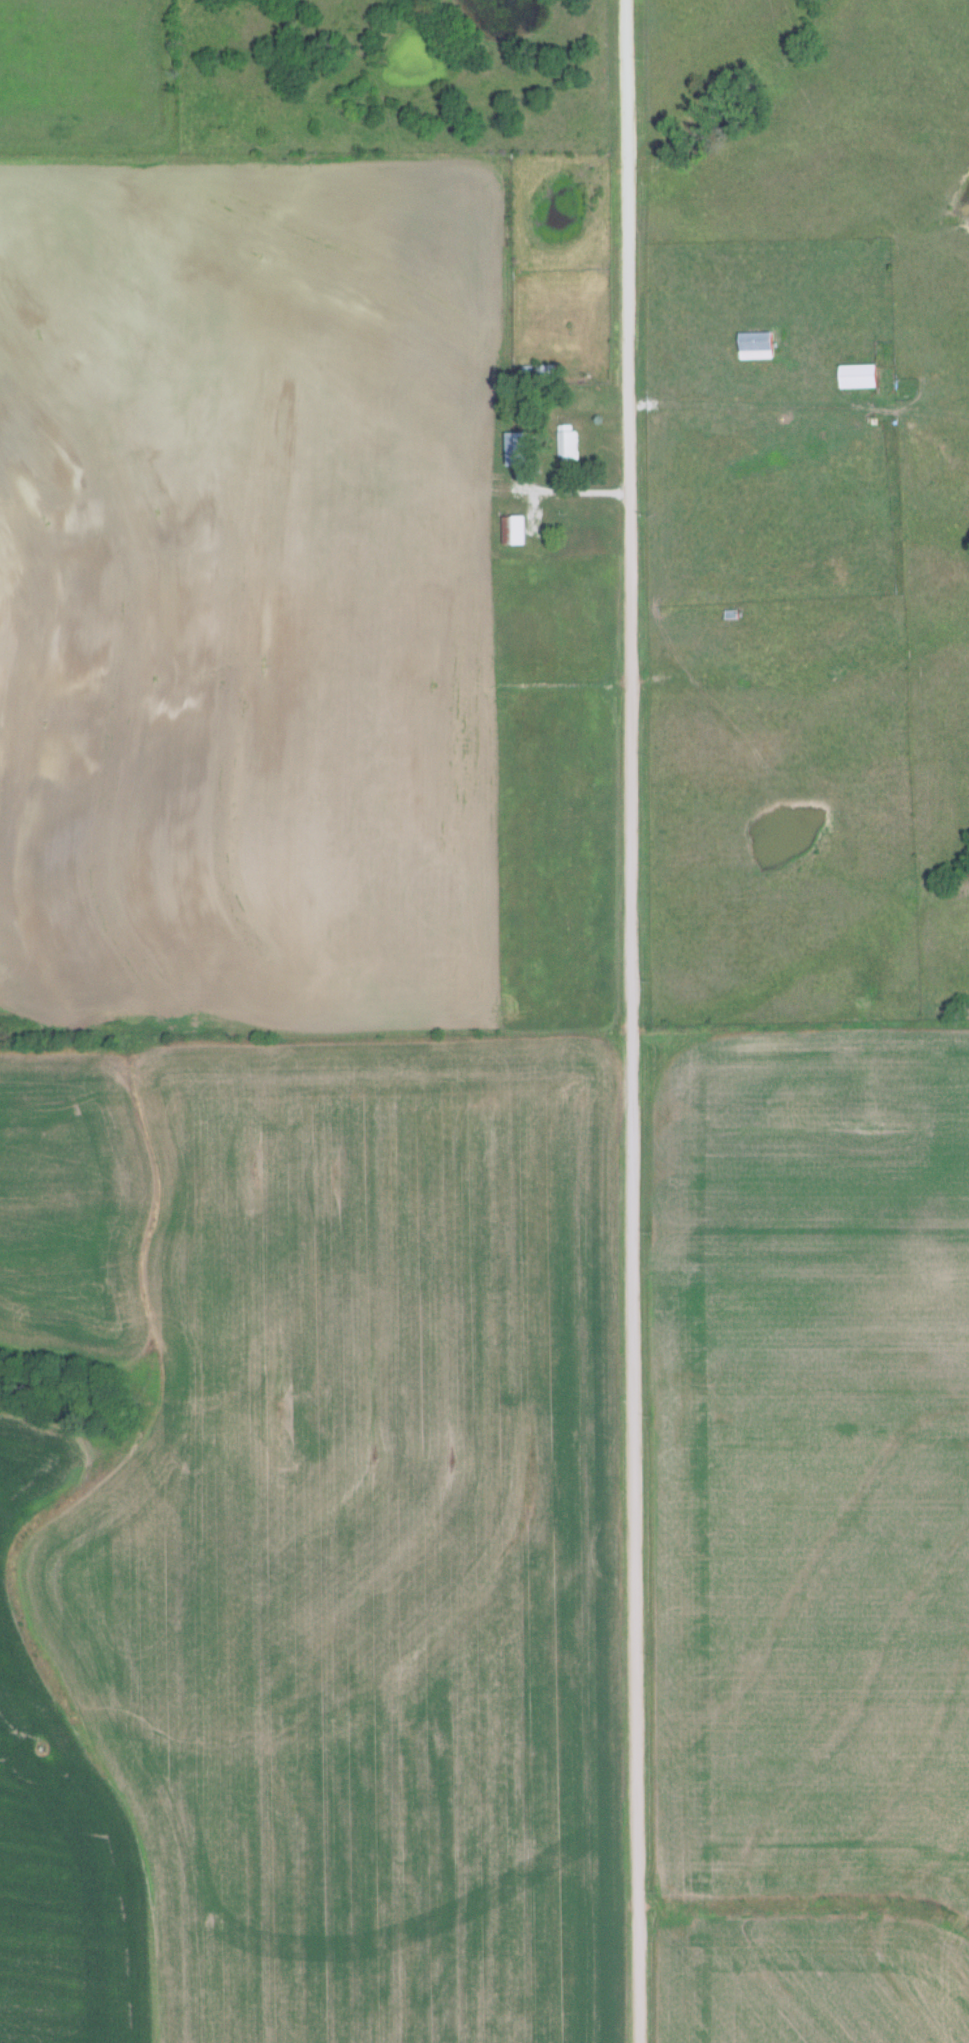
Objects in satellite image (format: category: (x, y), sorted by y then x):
building: (756, 345)
building: (537, 368)
building: (858, 375)
building: (567, 442)
building: (517, 448)
building: (514, 529)
road: (631, 1021)

